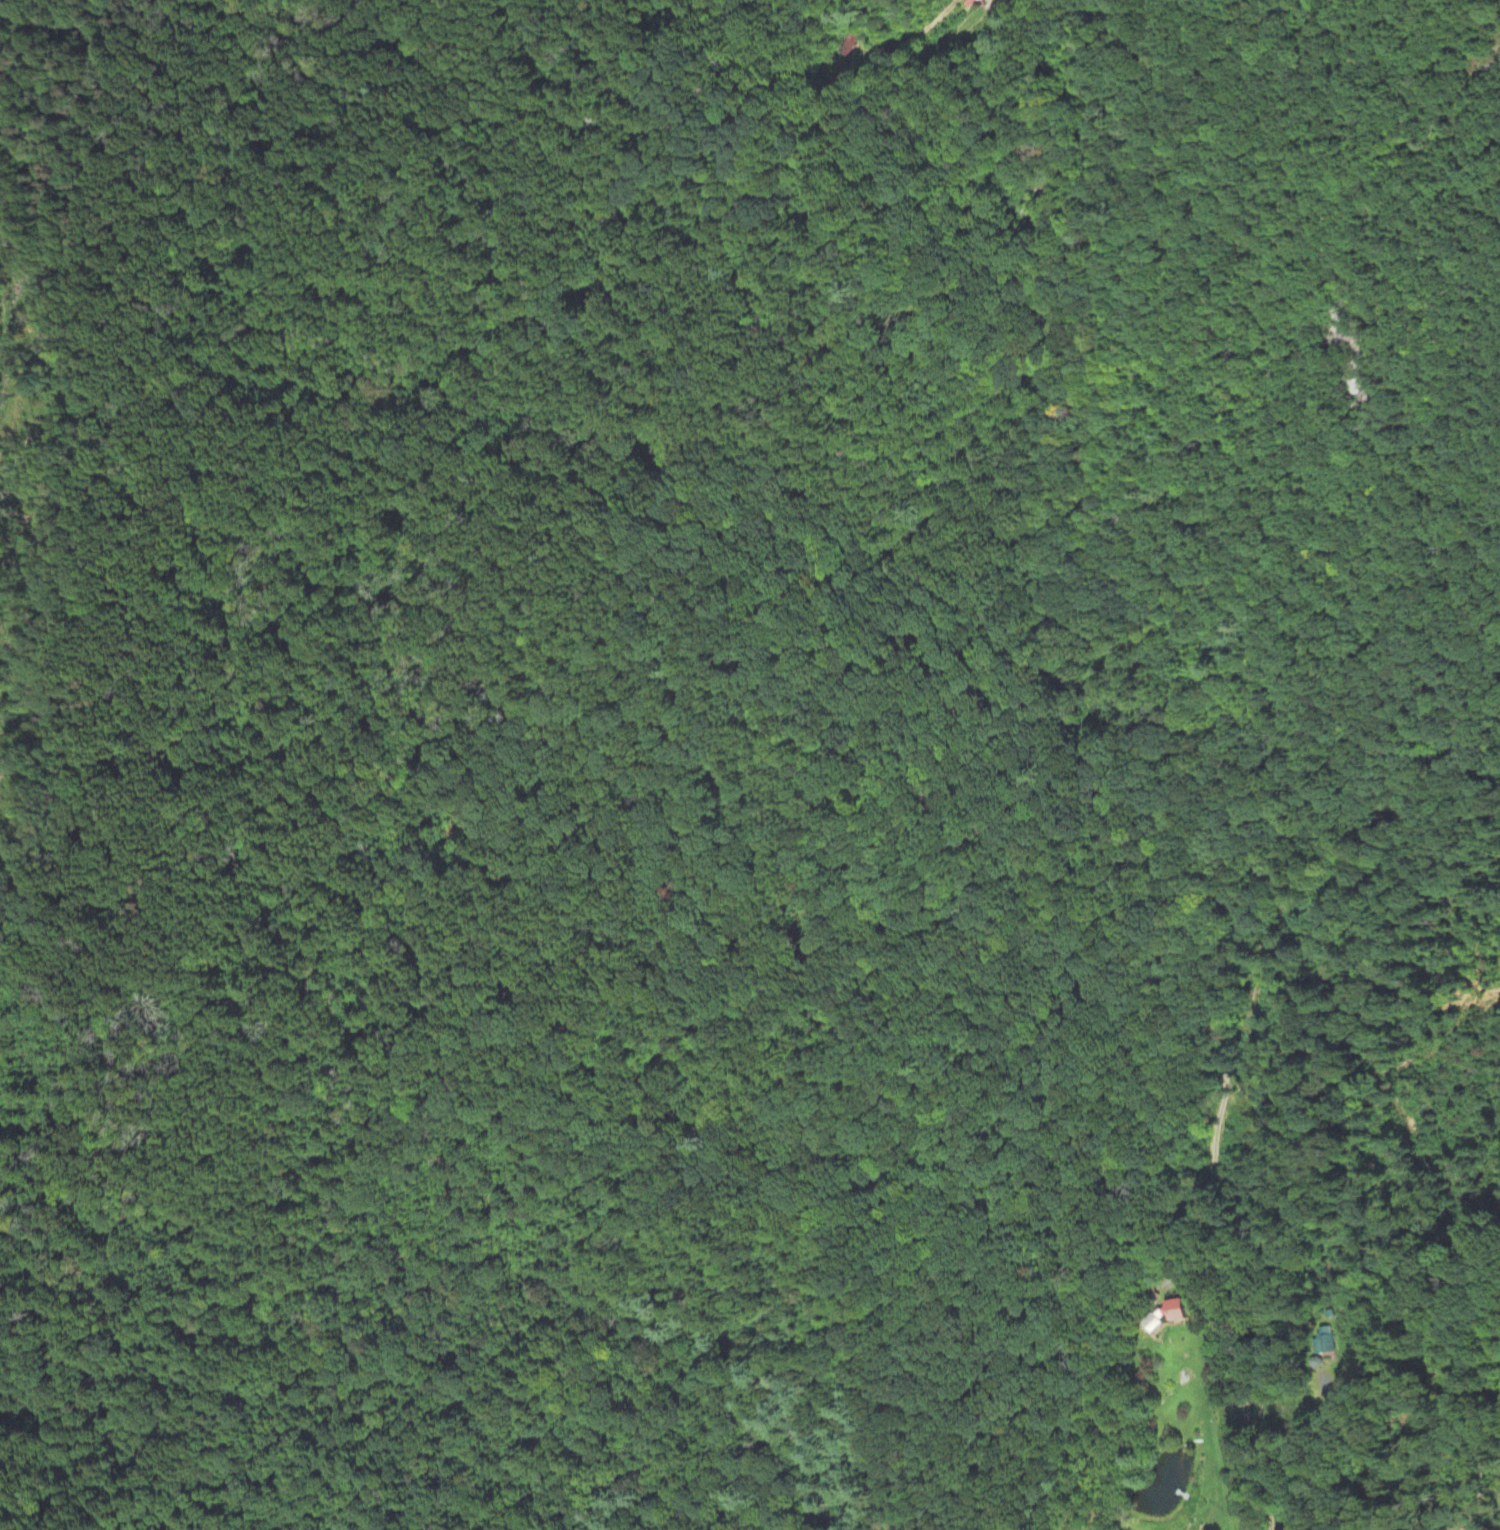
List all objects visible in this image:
road: (1218, 751)
building: (1175, 1310)
building: (1324, 1342)
road: (1334, 1453)

